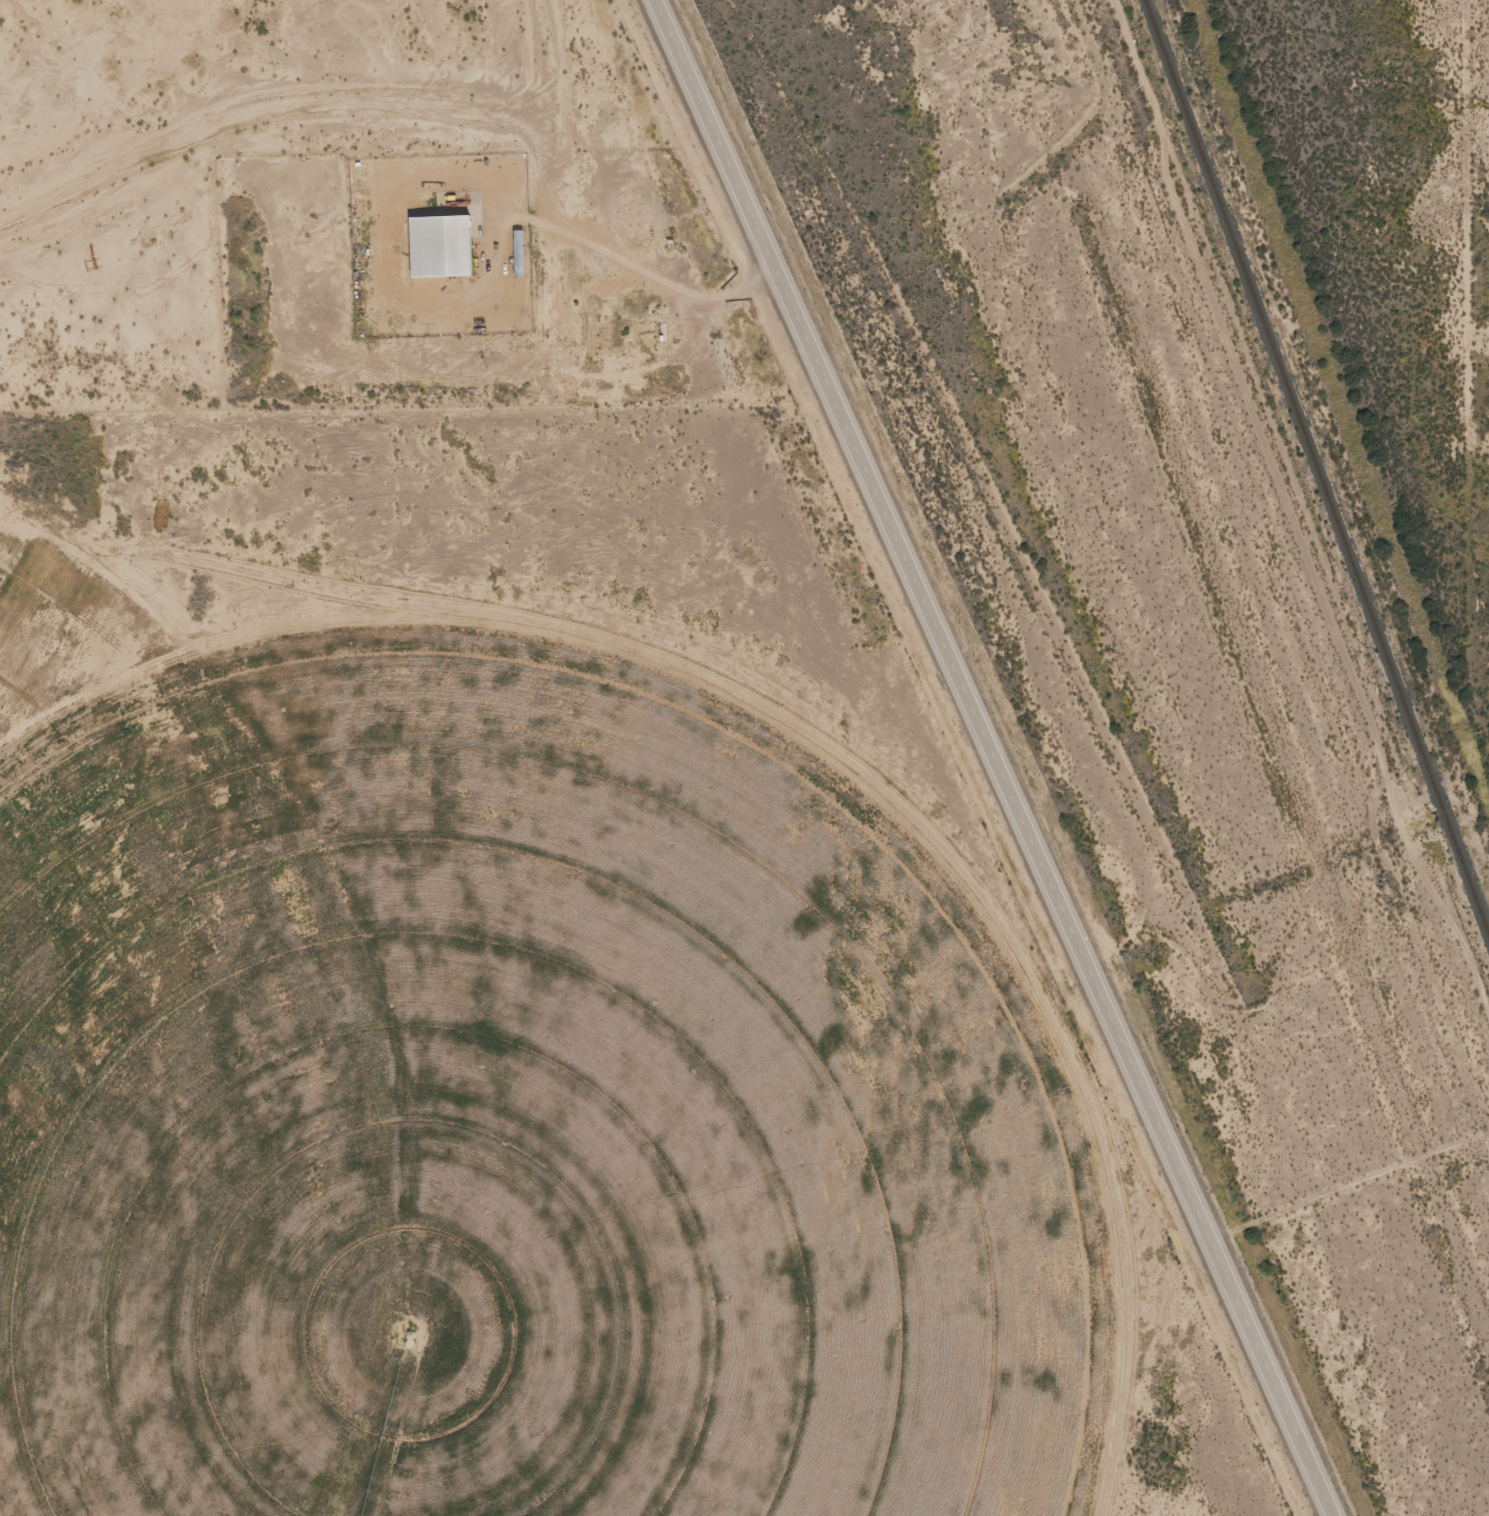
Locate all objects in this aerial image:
building: (438, 248)
building: (517, 254)
railway: (1315, 469)
road: (988, 758)

